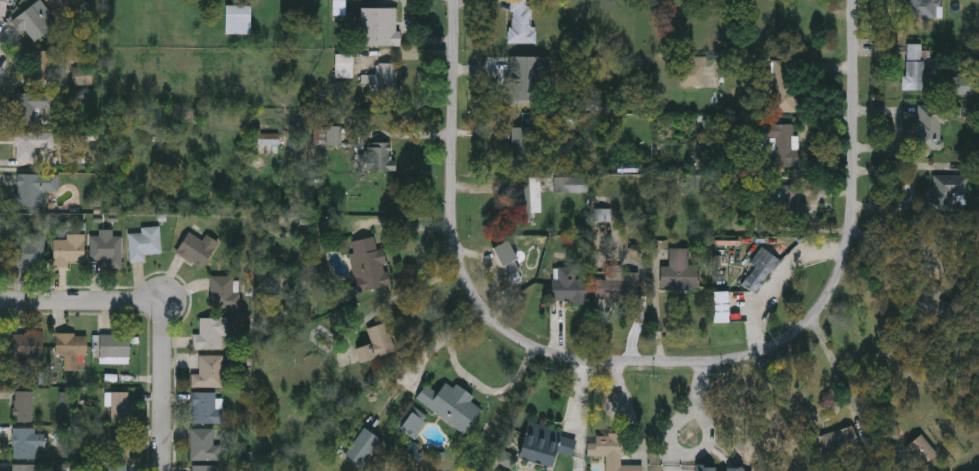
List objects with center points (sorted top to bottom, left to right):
building: (3, 7)
building: (923, 8)
building: (237, 19)
building: (34, 21)
building: (520, 23)
building: (379, 26)
building: (343, 65)
building: (914, 66)
building: (692, 71)
building: (519, 81)
building: (384, 82)
building: (784, 86)
building: (31, 104)
building: (928, 129)
building: (332, 135)
building: (266, 139)
building: (31, 144)
building: (523, 144)
building: (565, 145)
building: (777, 146)
road: (855, 171)
building: (576, 185)
building: (34, 188)
building: (949, 193)
building: (786, 200)
building: (519, 203)
building: (144, 244)
building: (196, 248)
building: (107, 249)
building: (69, 251)
building: (29, 252)
building: (369, 263)
building: (674, 270)
building: (759, 270)
building: (621, 285)
building: (570, 286)
building: (225, 291)
road: (390, 299)
road: (83, 301)
building: (720, 306)
road: (492, 318)
building: (211, 332)
building: (376, 343)
building: (28, 344)
building: (70, 345)
building: (115, 346)
building: (209, 371)
road: (485, 385)
road: (163, 392)
building: (24, 404)
building: (451, 404)
building: (120, 405)
road: (587, 414)
building: (413, 421)
road: (668, 441)
building: (28, 442)
building: (835, 442)
building: (120, 443)
building: (204, 445)
building: (542, 445)
building: (362, 447)
building: (921, 449)
building: (611, 451)
building: (25, 467)
building: (116, 467)
building: (204, 468)
building: (719, 468)

